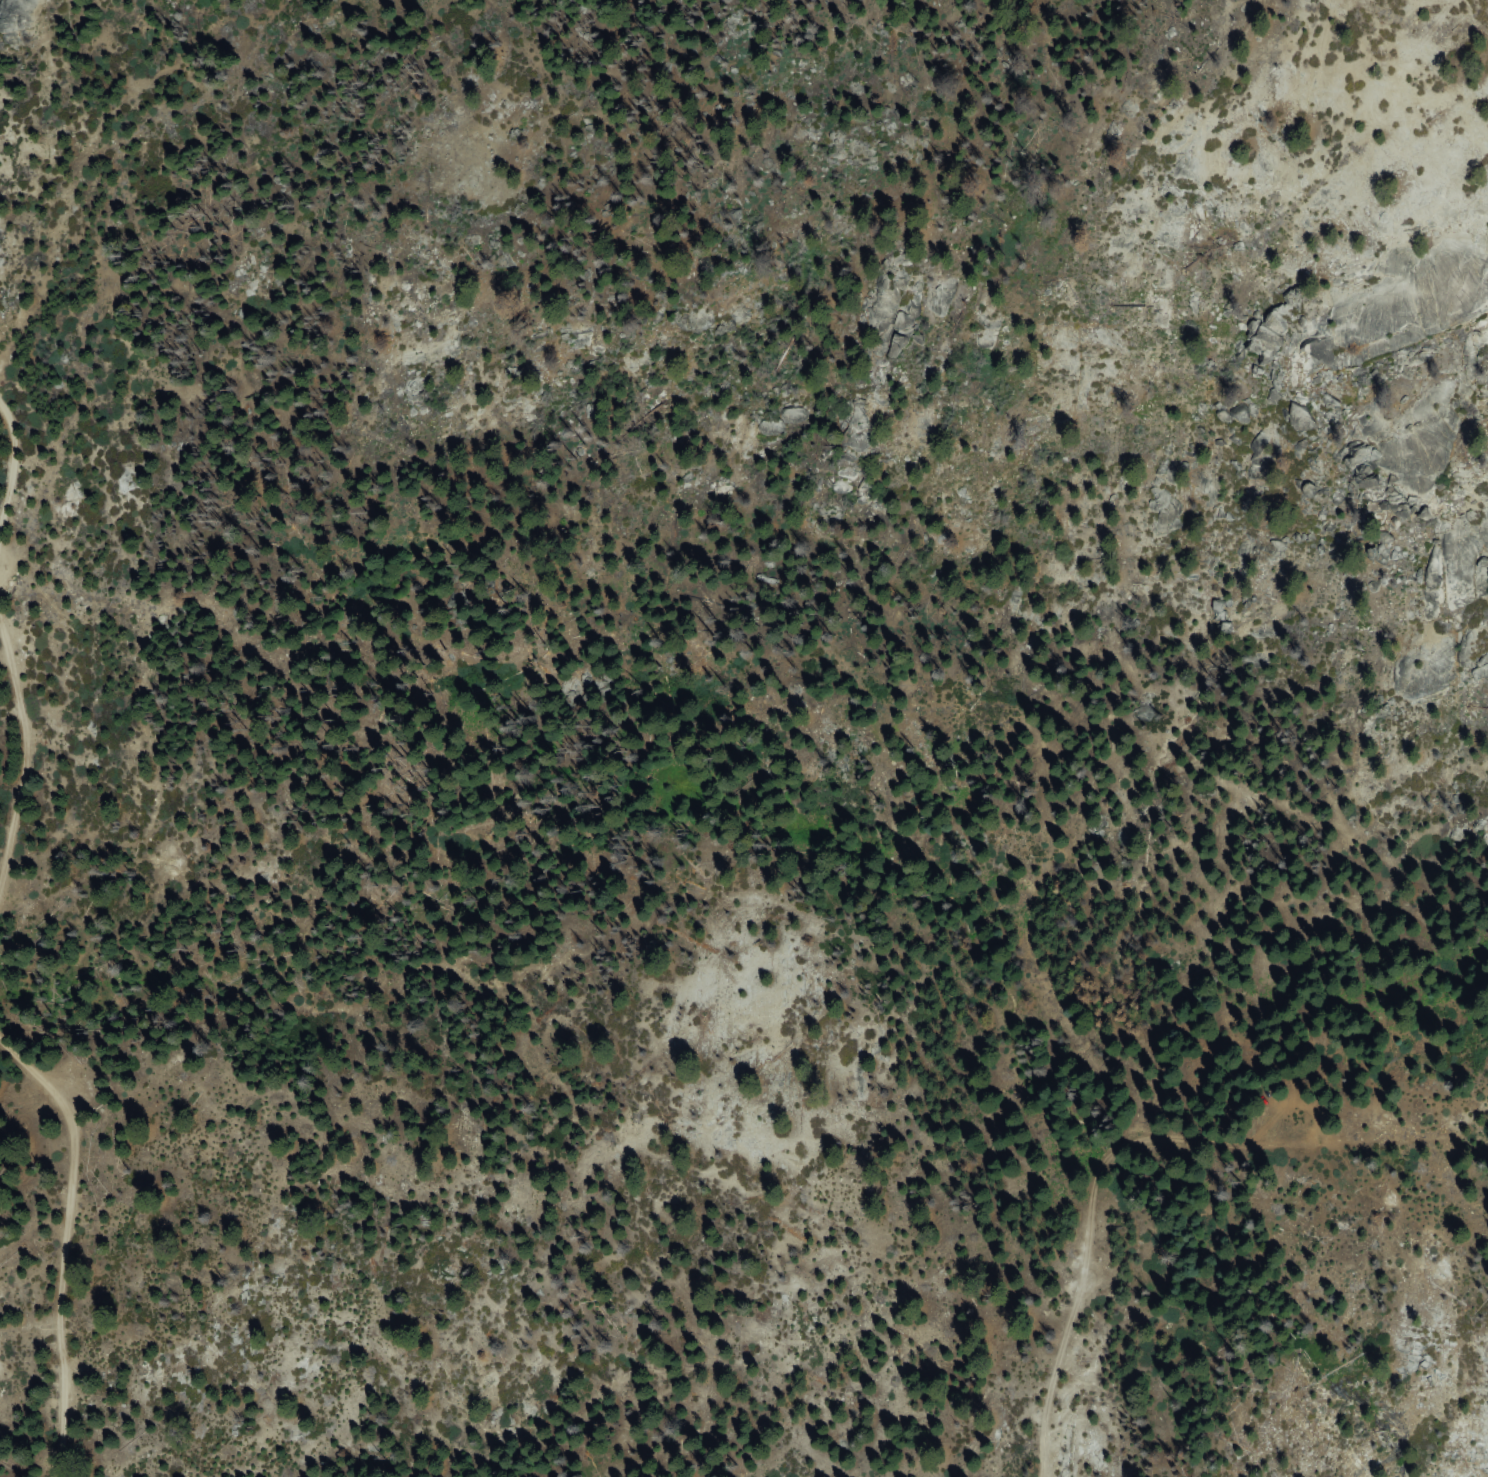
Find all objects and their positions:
road: (9, 457)
road: (23, 753)
road: (72, 1140)
road: (1085, 1353)
road: (60, 1370)

